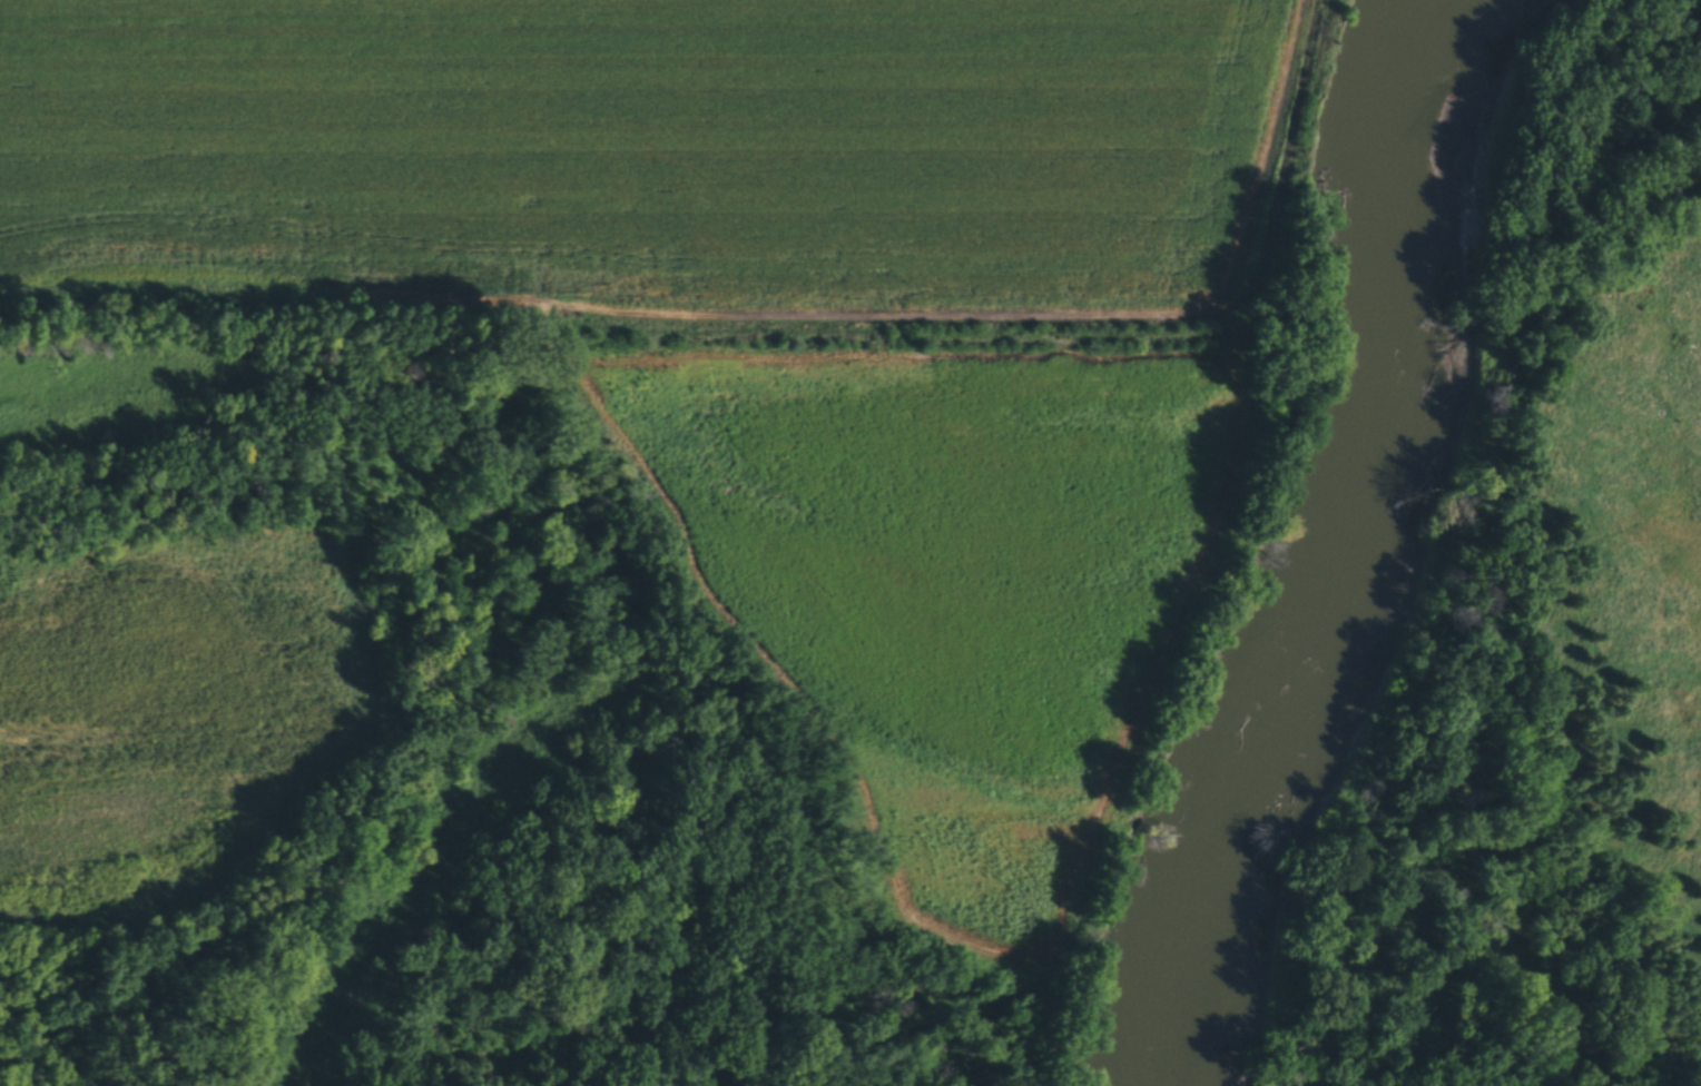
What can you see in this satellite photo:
river: (1340, 547)

